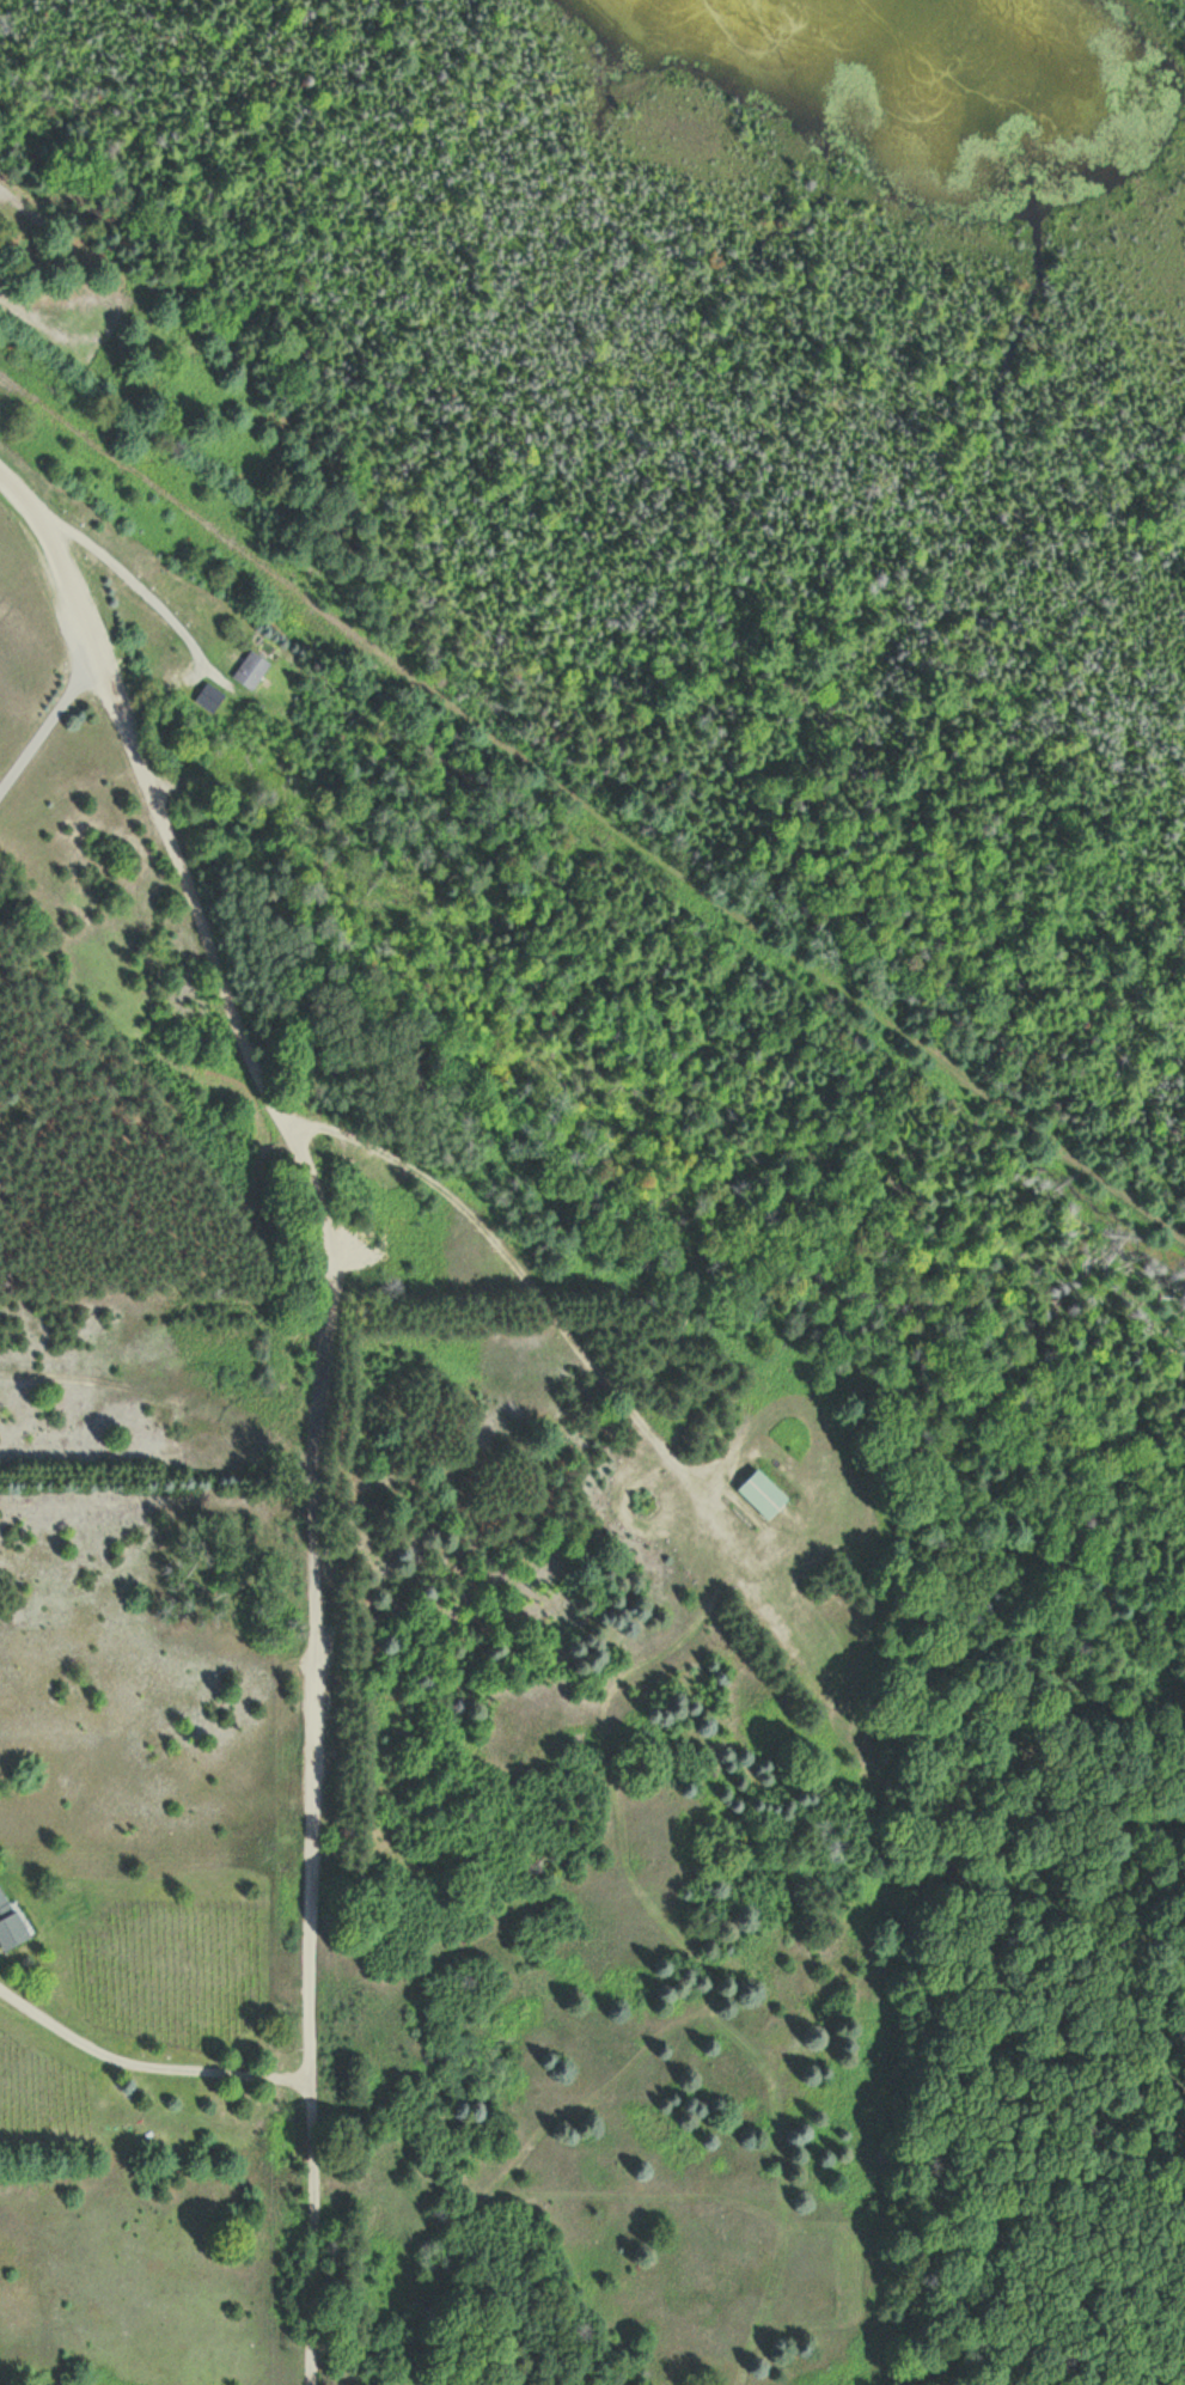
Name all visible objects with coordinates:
building: (252, 670)
building: (207, 702)
road: (316, 1393)
building: (764, 1494)
building: (10, 1925)

